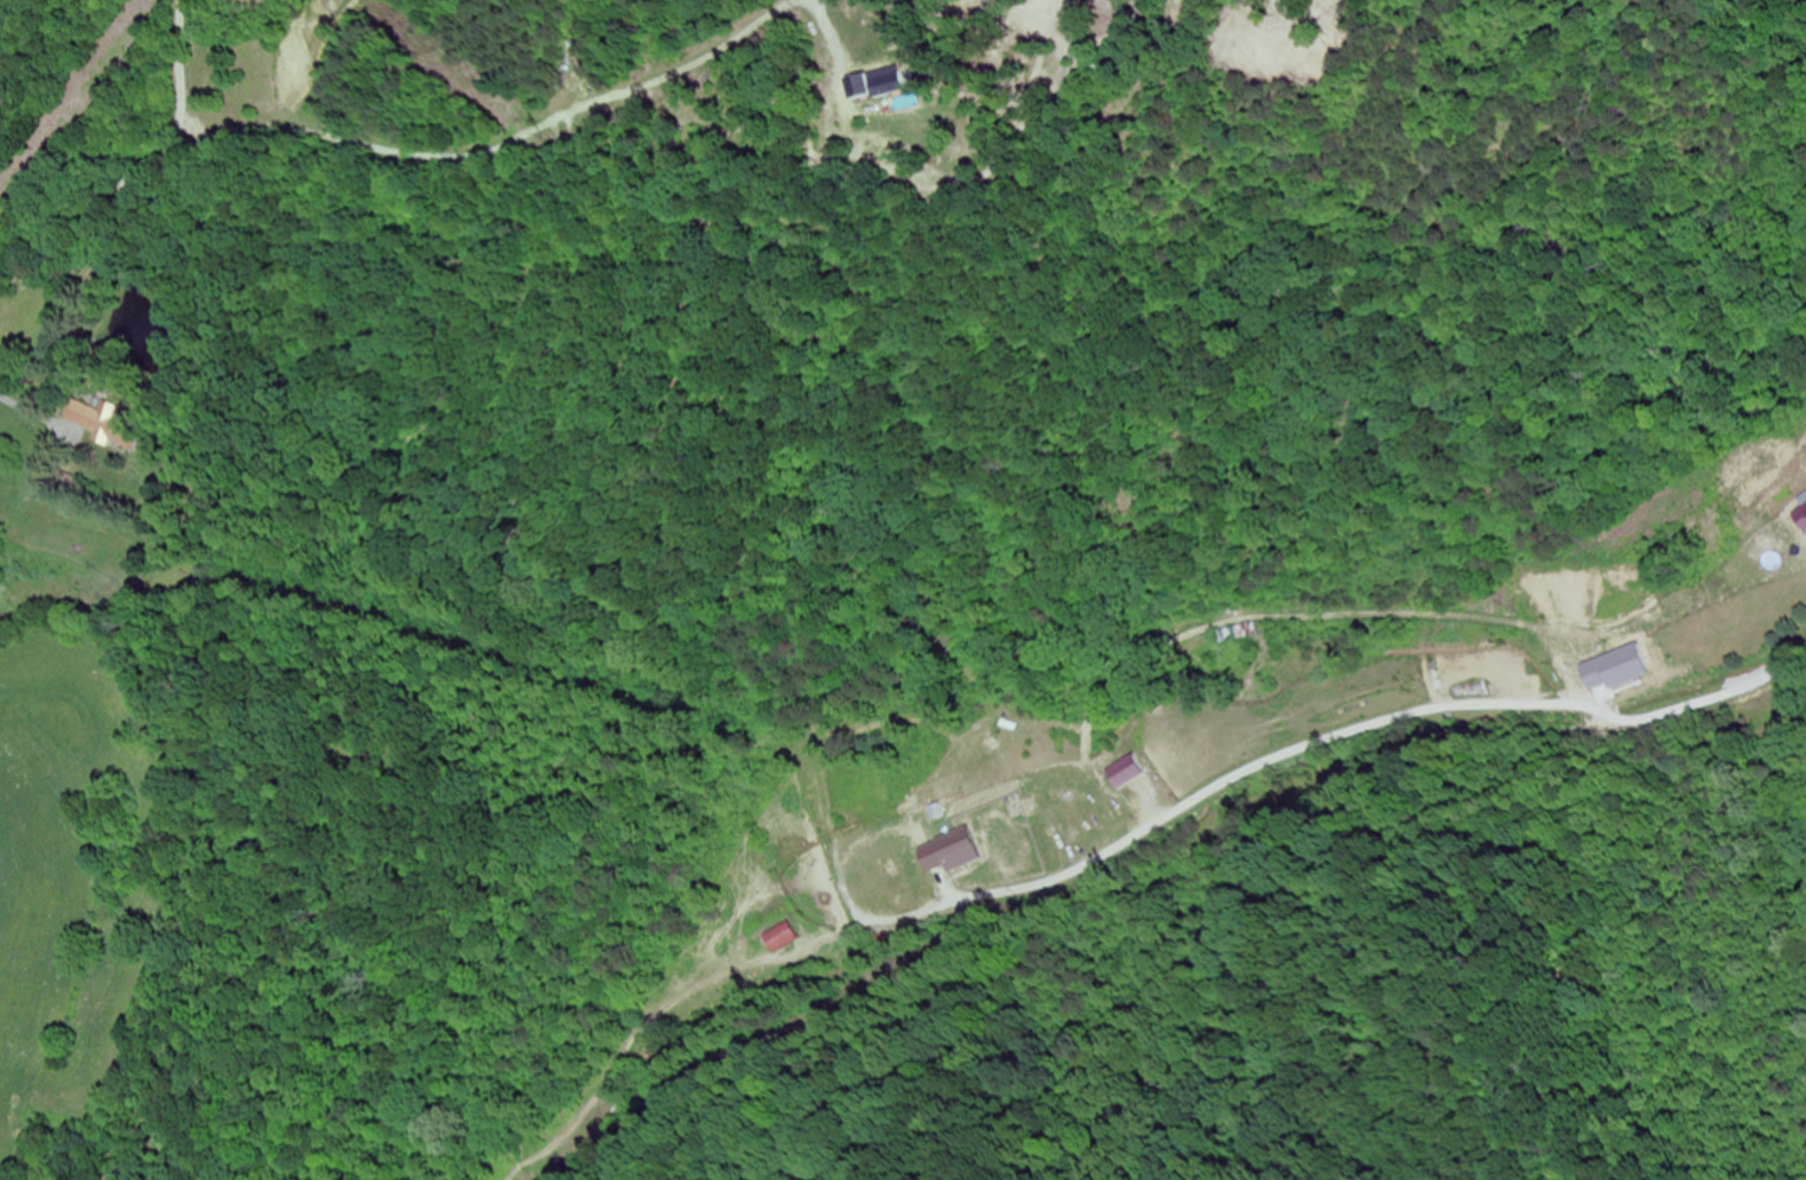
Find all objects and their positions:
building: (889, 84)
road: (144, 171)
building: (106, 419)
building: (1244, 634)
building: (1634, 660)
building: (1132, 773)
building: (1016, 813)

